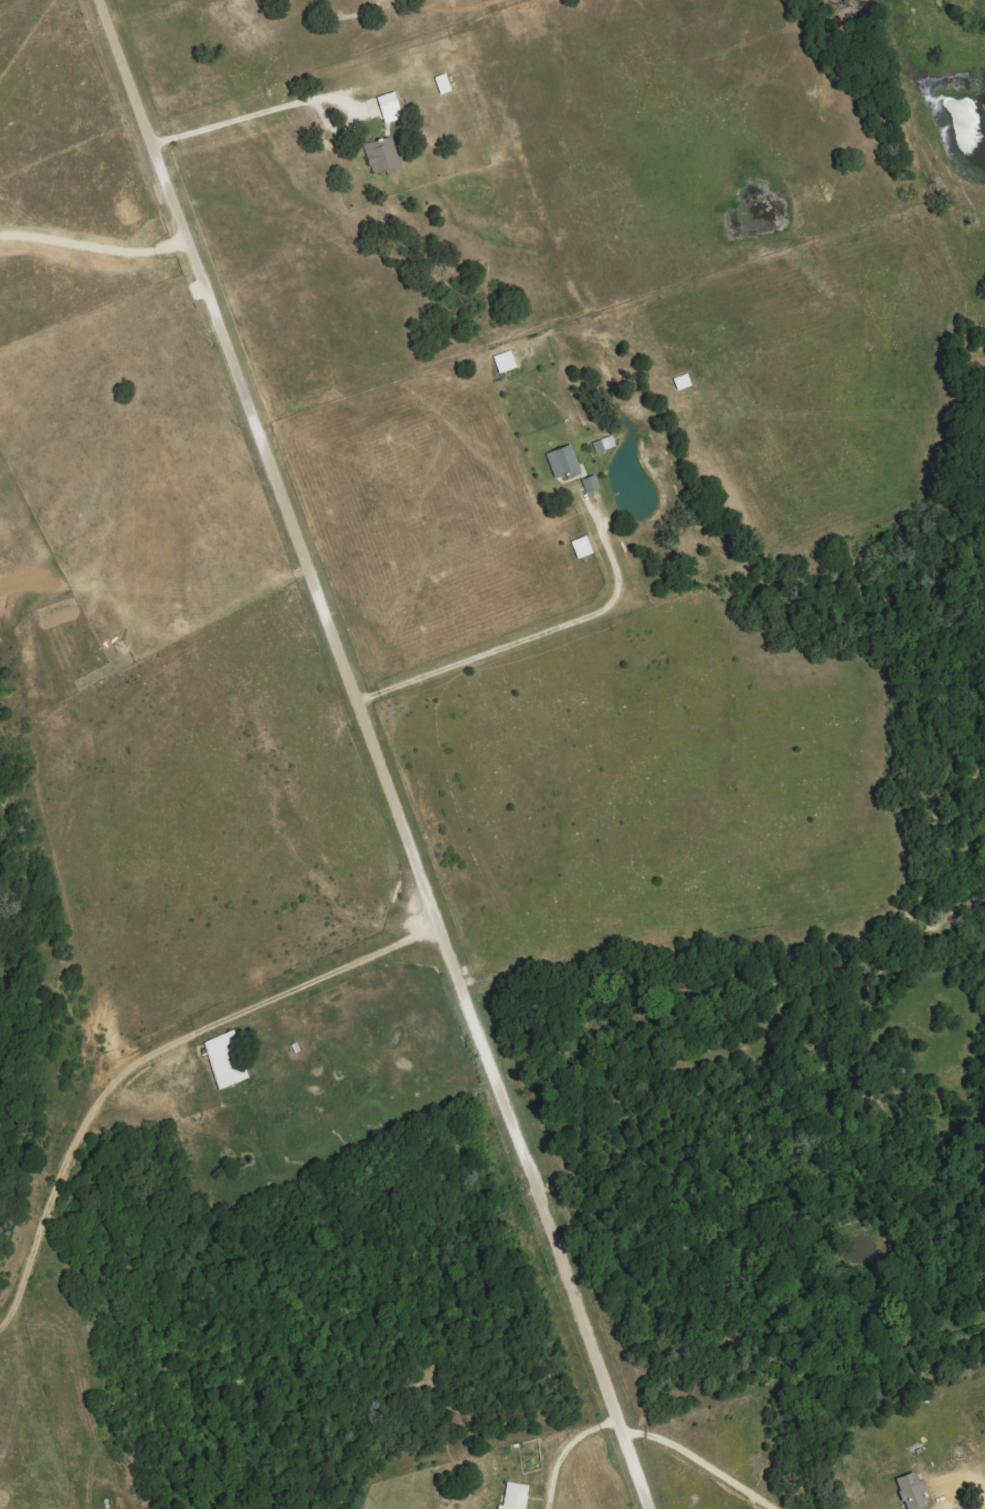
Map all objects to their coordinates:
building: (445, 84)
building: (392, 107)
road: (255, 115)
building: (385, 155)
road: (95, 239)
building: (507, 361)
building: (684, 382)
building: (565, 462)
building: (592, 484)
building: (584, 547)
road: (535, 634)
road: (376, 753)
road: (325, 974)
building: (227, 1061)
road: (565, 1451)
road: (701, 1459)
building: (913, 1491)
building: (517, 1497)

